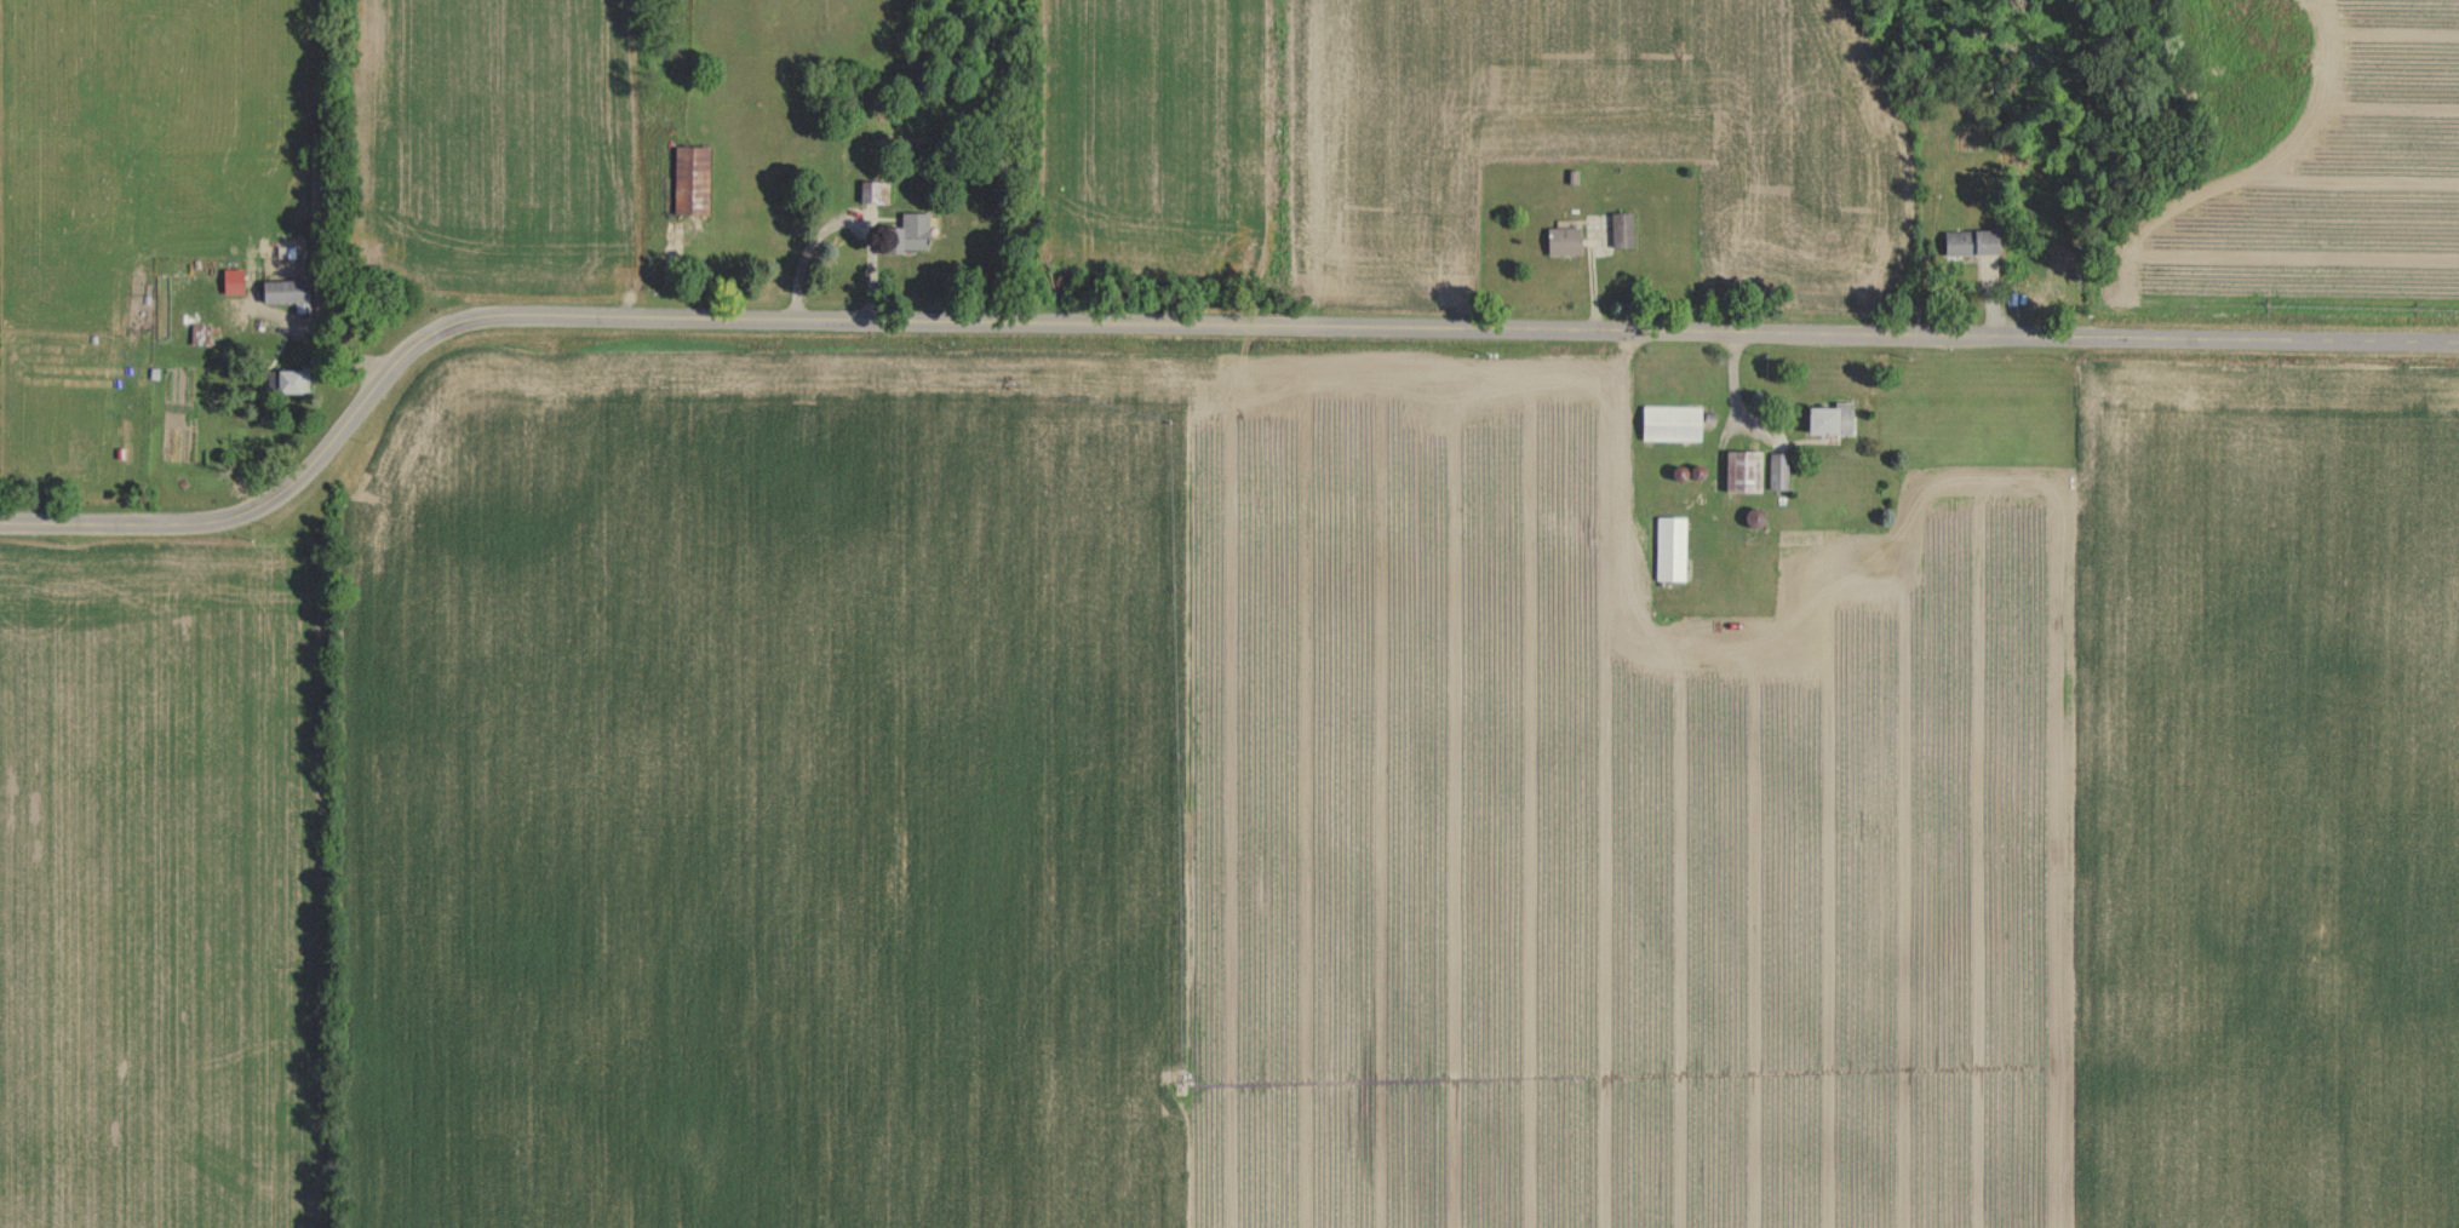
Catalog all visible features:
building: (697, 165)
building: (876, 193)
road: (848, 218)
building: (1626, 230)
building: (912, 235)
building: (1567, 240)
building: (1967, 241)
building: (290, 291)
building: (162, 305)
building: (239, 314)
road: (1187, 320)
building: (292, 379)
building: (1825, 417)
building: (1668, 420)
building: (1739, 467)
building: (1776, 469)
building: (1668, 546)

